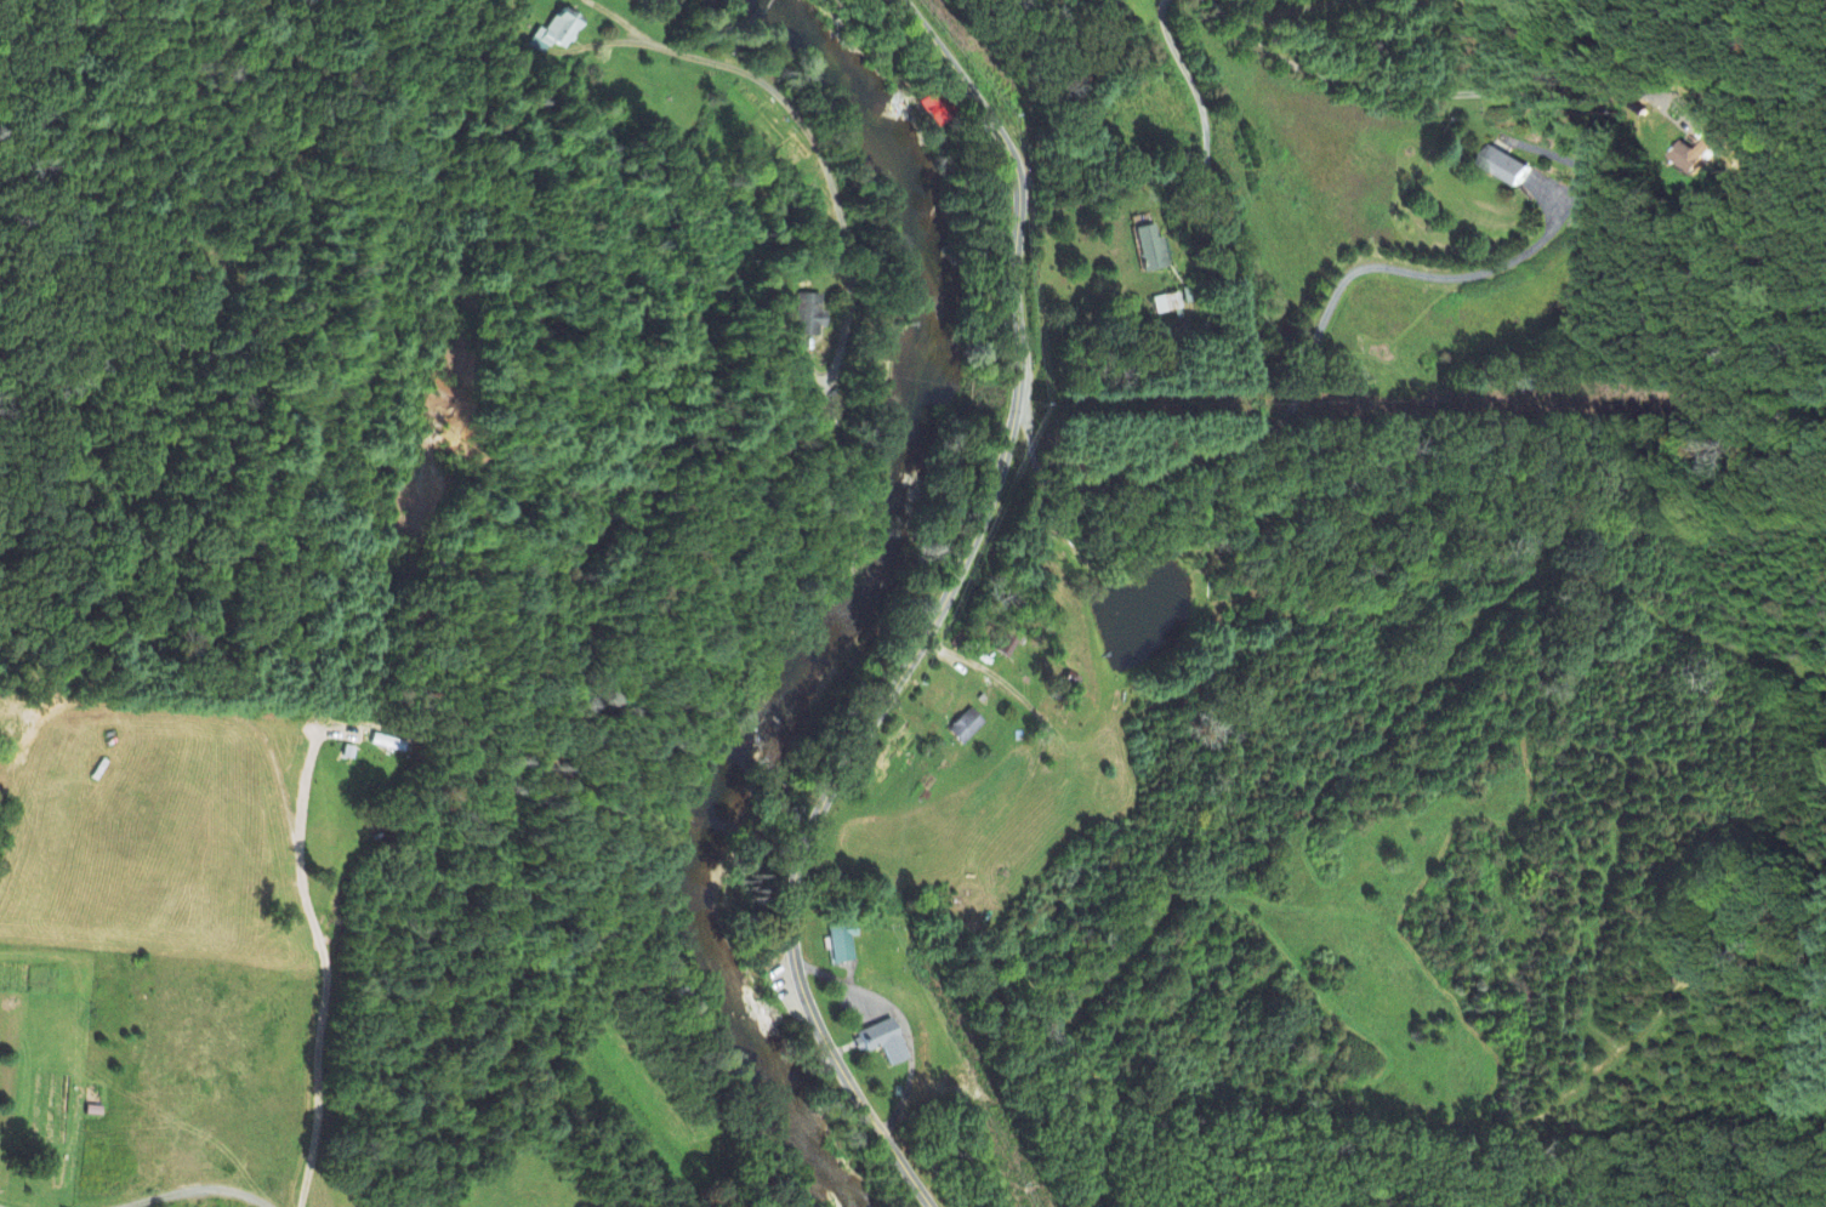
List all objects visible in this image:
road: (751, 24)
building: (556, 32)
road: (727, 61)
road: (1337, 78)
building: (933, 109)
building: (1686, 159)
building: (1503, 167)
building: (1150, 250)
road: (1426, 274)
river: (928, 279)
building: (1166, 304)
building: (808, 317)
road: (1302, 372)
road: (716, 571)
road: (945, 614)
building: (1006, 648)
road: (234, 722)
building: (965, 728)
river: (700, 900)
building: (841, 943)
road: (326, 972)
building: (883, 1037)
road: (198, 1191)

